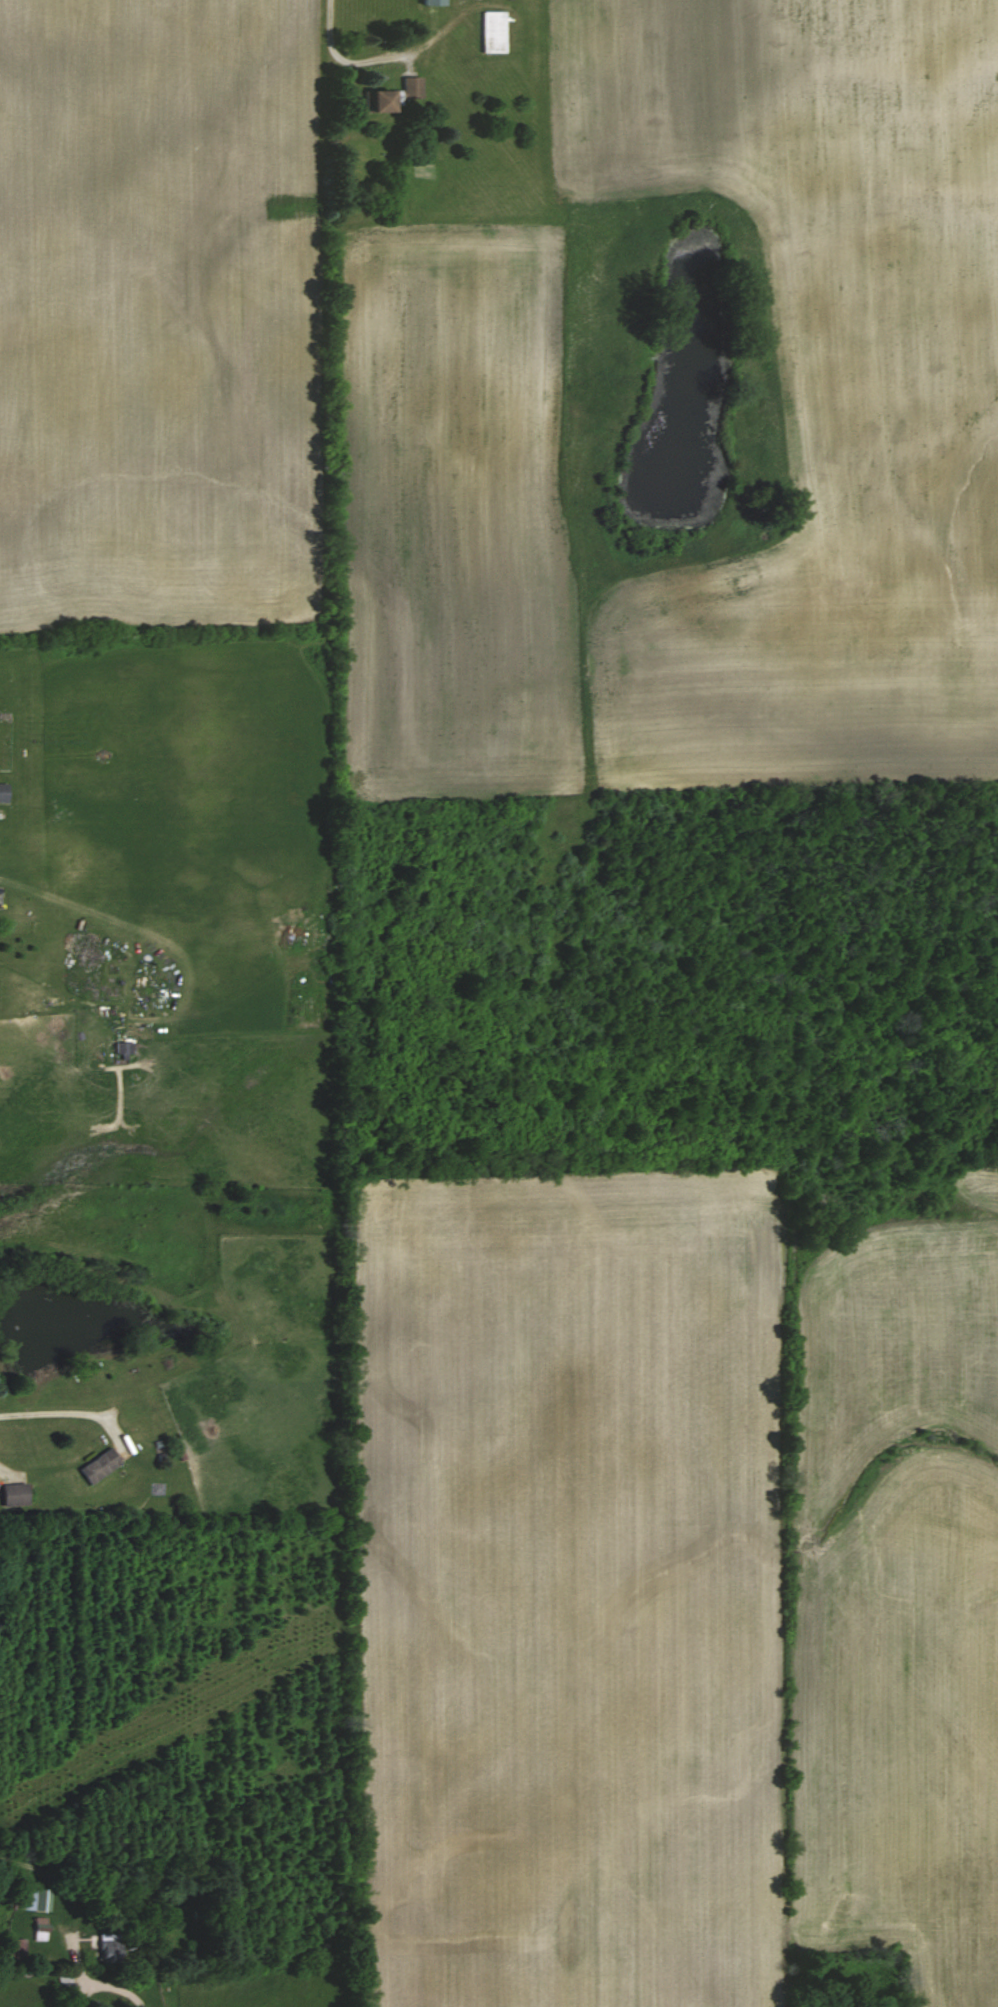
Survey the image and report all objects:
building: (430, 3)
building: (489, 32)
road: (343, 60)
building: (410, 88)
building: (374, 102)
building: (2, 792)
building: (121, 1049)
building: (97, 1465)
building: (12, 1495)
building: (32, 1901)
building: (108, 1948)
building: (13, 1949)
road: (135, 1977)
building: (63, 1988)

